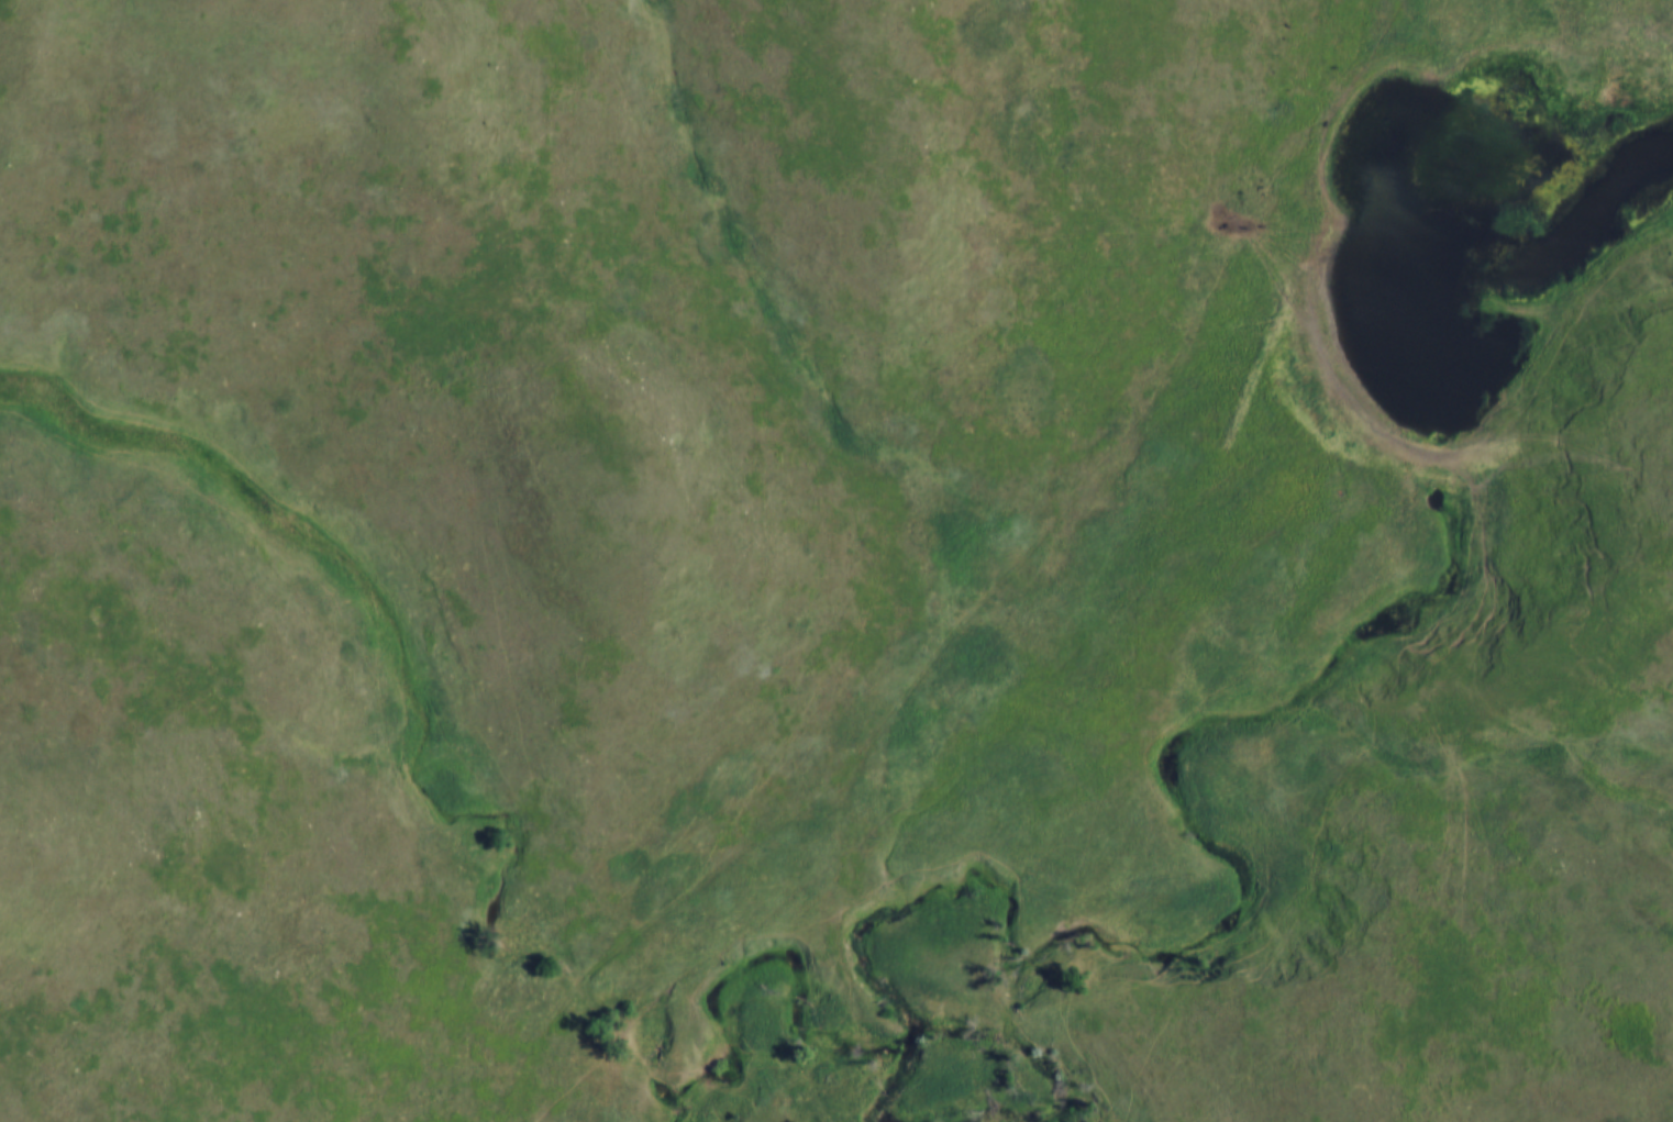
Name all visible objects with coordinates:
dam: (1362, 410)

